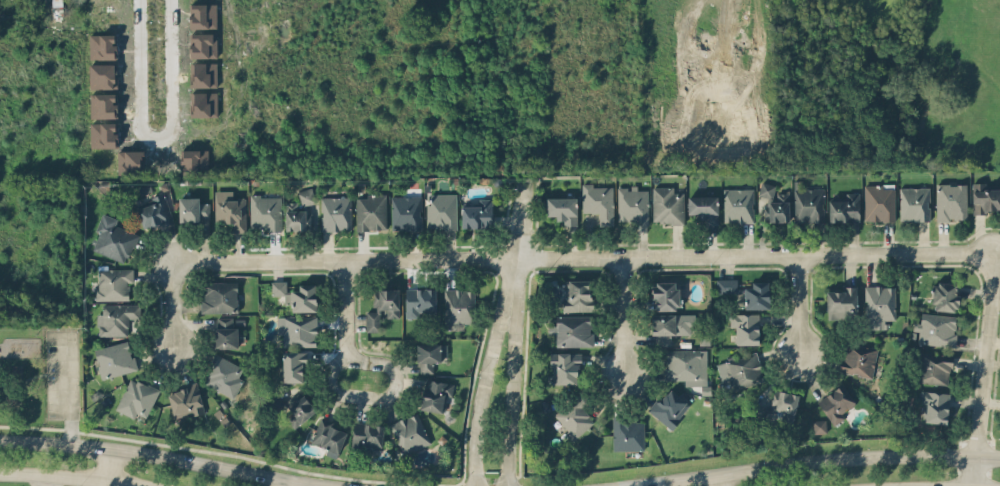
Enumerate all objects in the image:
building: (202, 15)
building: (115, 36)
building: (204, 44)
building: (103, 46)
building: (102, 75)
building: (204, 89)
building: (103, 105)
building: (103, 134)
road: (150, 137)
building: (195, 161)
building: (131, 162)
building: (985, 197)
building: (597, 199)
building: (808, 200)
building: (878, 201)
building: (950, 201)
building: (632, 202)
building: (913, 202)
building: (773, 203)
building: (737, 204)
building: (666, 205)
building: (702, 206)
building: (193, 208)
building: (562, 208)
building: (844, 208)
building: (440, 209)
building: (153, 210)
building: (230, 210)
building: (335, 210)
building: (265, 211)
building: (299, 211)
building: (371, 211)
building: (405, 212)
building: (477, 212)
road: (520, 219)
building: (113, 238)
road: (586, 258)
building: (113, 283)
building: (278, 287)
building: (745, 291)
building: (577, 294)
building: (665, 294)
building: (218, 295)
building: (945, 295)
building: (303, 297)
road: (171, 298)
building: (841, 300)
building: (419, 301)
building: (878, 304)
road: (798, 305)
building: (458, 306)
building: (382, 307)
road: (344, 311)
building: (115, 317)
road: (617, 319)
building: (745, 326)
building: (663, 328)
building: (936, 328)
building: (297, 329)
building: (573, 330)
building: (225, 331)
building: (429, 355)
building: (114, 358)
building: (857, 358)
building: (293, 365)
building: (684, 365)
building: (565, 366)
building: (933, 367)
road: (980, 368)
building: (739, 369)
road: (485, 371)
road: (509, 372)
building: (222, 374)
road: (64, 389)
building: (435, 393)
building: (136, 397)
road: (376, 398)
building: (184, 399)
building: (837, 402)
building: (783, 404)
building: (934, 404)
building: (668, 407)
building: (299, 408)
building: (574, 416)
building: (819, 426)
building: (409, 432)
building: (627, 433)
building: (327, 435)
building: (367, 435)
road: (159, 455)
road: (812, 462)
road: (109, 465)
road: (71, 478)
road: (716, 480)
road: (43, 481)
road: (298, 485)

